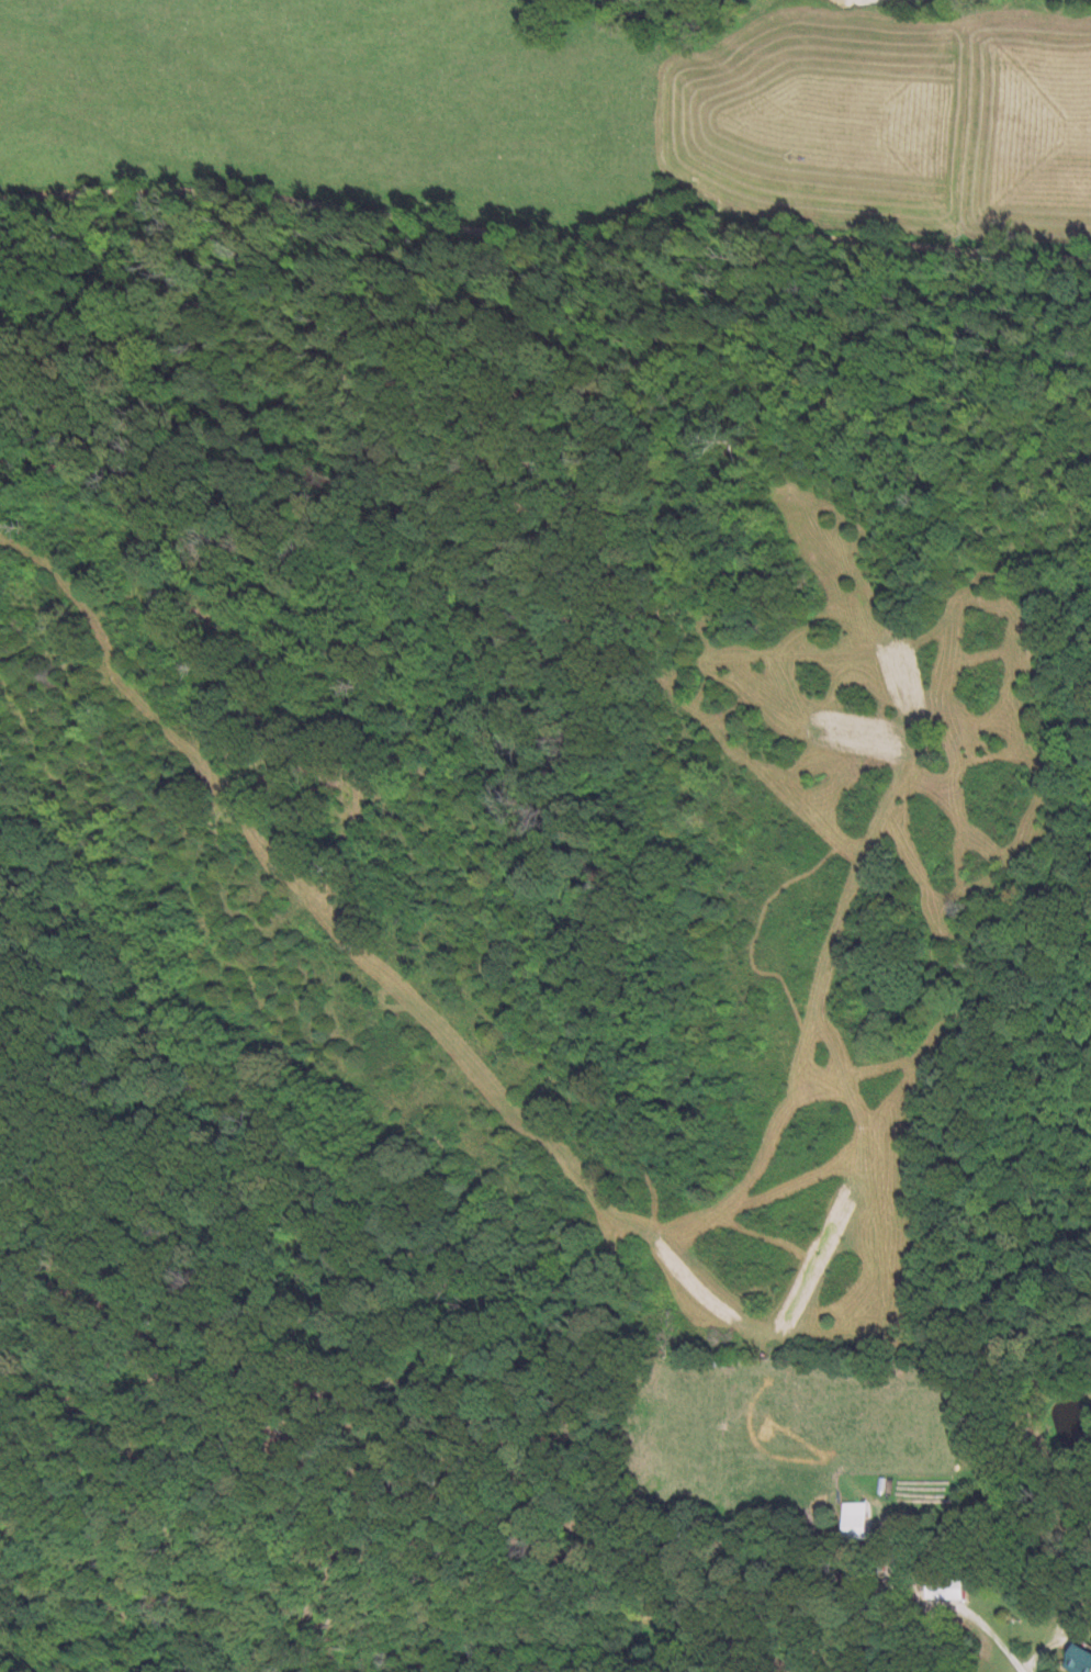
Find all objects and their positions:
building: (847, 1519)
building: (937, 1586)
road: (994, 1636)
building: (1073, 1660)

